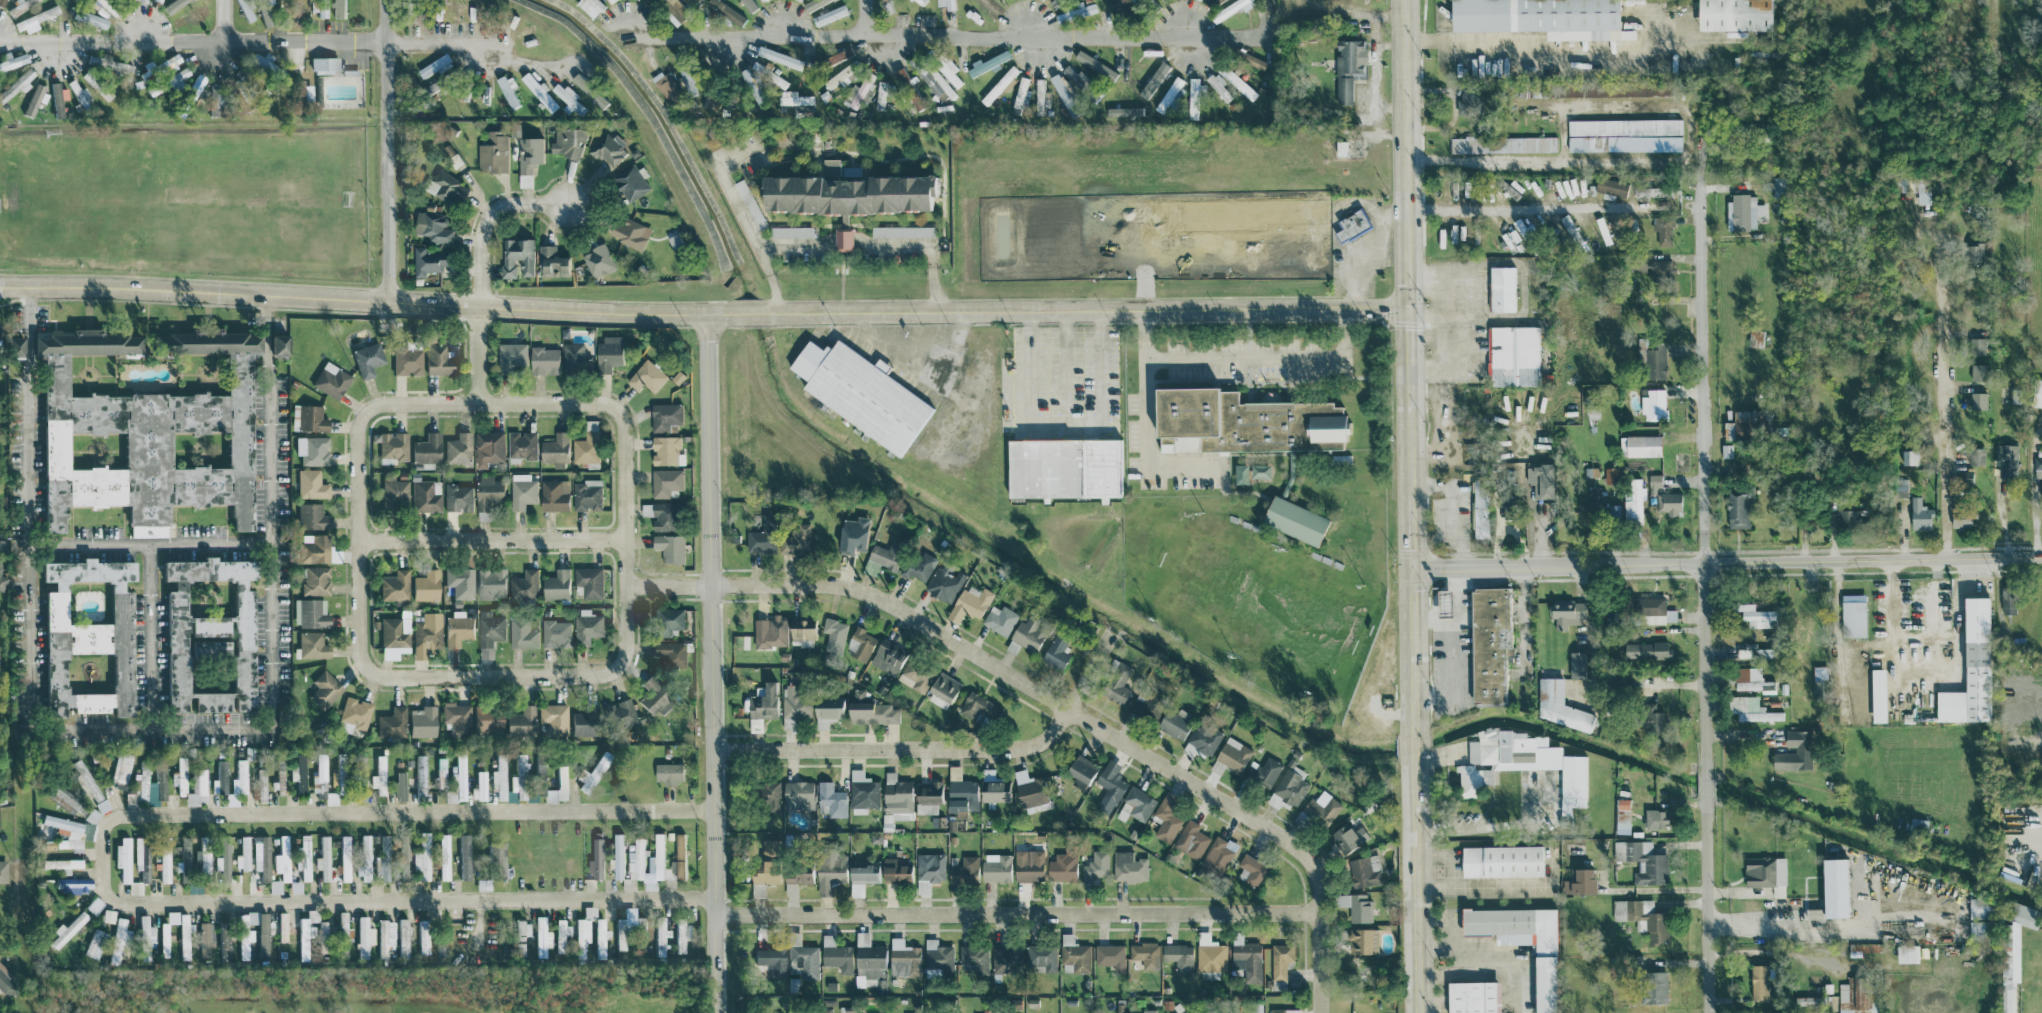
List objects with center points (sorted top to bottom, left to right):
building: (36, 0)
building: (882, 0)
building: (28, 1)
building: (158, 1)
building: (610, 1)
building: (920, 1)
building: (1215, 1)
road: (1992, 1)
building: (946, 4)
building: (590, 6)
building: (321, 8)
building: (338, 8)
building: (293, 9)
building: (674, 10)
building: (726, 11)
building: (1075, 12)
building: (829, 14)
building: (1734, 15)
road: (868, 16)
building: (36, 18)
building: (88, 18)
building: (1542, 18)
road: (222, 20)
road: (963, 36)
road: (193, 40)
road: (440, 43)
building: (838, 55)
building: (779, 57)
building: (1250, 59)
road: (1548, 59)
building: (170, 60)
building: (13, 61)
building: (988, 62)
building: (1090, 63)
building: (265, 64)
building: (323, 64)
building: (433, 66)
building: (946, 67)
building: (1348, 67)
building: (124, 68)
building: (688, 81)
building: (936, 82)
building: (1237, 82)
building: (16, 85)
building: (162, 85)
building: (666, 85)
building: (752, 85)
building: (999, 85)
building: (194, 87)
building: (1219, 87)
building: (1612, 88)
building: (300, 89)
building: (862, 89)
building: (509, 90)
building: (589, 90)
building: (538, 91)
building: (1170, 93)
building: (1022, 94)
building: (1066, 94)
building: (882, 95)
building: (1041, 96)
building: (82, 97)
building: (1193, 98)
building: (55, 99)
building: (33, 100)
building: (215, 100)
building: (797, 101)
building: (1469, 102)
road: (1680, 106)
building: (1614, 131)
building: (567, 142)
building: (1503, 144)
building: (608, 149)
road: (387, 150)
building: (493, 152)
building: (528, 158)
road: (1486, 158)
building: (829, 167)
building: (629, 182)
building: (1611, 186)
building: (446, 187)
road: (728, 187)
building: (1922, 189)
building: (846, 191)
building: (750, 203)
road: (1528, 210)
building: (1743, 210)
building: (1352, 224)
building: (432, 226)
building: (1520, 226)
building: (1570, 228)
building: (1603, 229)
building: (1662, 229)
building: (901, 230)
building: (790, 231)
building: (630, 232)
building: (842, 238)
road: (847, 239)
road: (798, 244)
road: (892, 245)
building: (1973, 252)
building: (517, 256)
building: (597, 259)
building: (428, 260)
building: (551, 261)
road: (480, 267)
building: (1652, 267)
road: (934, 278)
road: (772, 280)
building: (1501, 287)
road: (366, 300)
road: (1947, 307)
traffic signals: (1410, 308)
road: (29, 309)
road: (1090, 310)
road: (267, 311)
road: (752, 312)
road: (1455, 327)
road: (902, 332)
road: (1433, 334)
building: (1755, 337)
building: (276, 344)
building: (1977, 344)
building: (12, 345)
building: (608, 352)
building: (511, 355)
building: (1514, 355)
building: (574, 356)
road: (1271, 358)
building: (366, 359)
building: (406, 359)
building: (436, 359)
building: (543, 359)
building: (1652, 359)
road: (1410, 365)
building: (1977, 370)
road: (1064, 371)
building: (646, 375)
road: (933, 379)
building: (330, 380)
building: (861, 392)
building: (2037, 392)
road: (1427, 394)
building: (1978, 399)
road: (491, 401)
building: (1654, 404)
building: (1592, 411)
building: (664, 415)
building: (307, 418)
building: (1239, 420)
building: (1744, 421)
road: (1149, 422)
road: (1442, 422)
building: (143, 433)
road: (1066, 433)
building: (521, 444)
building: (1325, 444)
building: (1641, 444)
building: (391, 445)
building: (489, 445)
building: (554, 447)
building: (425, 448)
building: (458, 448)
building: (585, 449)
building: (1726, 449)
building: (312, 450)
building: (665, 450)
building: (1976, 455)
building: (1909, 456)
building: (2006, 461)
building: (2038, 466)
building: (1063, 467)
building: (1260, 470)
building: (1240, 473)
road: (1700, 473)
building: (1965, 476)
building: (1540, 480)
building: (1655, 481)
building: (665, 482)
building: (310, 484)
building: (2040, 485)
building: (1899, 486)
building: (393, 493)
building: (487, 494)
building: (523, 494)
building: (554, 494)
building: (425, 495)
building: (587, 496)
building: (457, 497)
building: (1596, 499)
building: (1632, 500)
building: (1669, 502)
building: (1739, 506)
road: (1451, 508)
building: (1480, 508)
building: (660, 514)
building: (1920, 514)
building: (310, 516)
building: (1847, 516)
building: (1962, 516)
building: (1294, 519)
road: (269, 529)
road: (28, 531)
road: (1947, 532)
building: (852, 534)
building: (762, 536)
road: (625, 537)
road: (358, 539)
road: (491, 539)
building: (796, 539)
road: (149, 543)
building: (669, 547)
building: (312, 548)
building: (885, 553)
road: (1727, 562)
building: (918, 565)
traffic signals: (1413, 568)
building: (870, 570)
building: (314, 580)
building: (588, 580)
building: (2, 582)
building: (458, 582)
building: (944, 582)
building: (490, 583)
building: (524, 584)
building: (555, 584)
building: (425, 585)
building: (394, 586)
building: (972, 599)
building: (2007, 599)
building: (1443, 602)
building: (1653, 610)
building: (1566, 612)
building: (309, 613)
building: (1756, 615)
building: (1853, 618)
building: (1000, 619)
road: (1434, 619)
building: (666, 620)
building: (586, 626)
building: (457, 628)
building: (801, 630)
building: (770, 631)
building: (488, 632)
building: (523, 632)
building: (555, 633)
building: (835, 633)
building: (1026, 633)
building: (425, 634)
building: (207, 635)
building: (85, 636)
road: (151, 637)
building: (393, 637)
building: (1489, 642)
building: (861, 644)
river: (1165, 644)
building: (311, 645)
road: (1453, 646)
building: (1646, 649)
building: (1056, 651)
building: (1754, 652)
building: (669, 653)
building: (888, 656)
road: (710, 663)
building: (1578, 664)
building: (1971, 668)
building: (916, 674)
road: (492, 676)
building: (1751, 679)
building: (1116, 682)
building: (324, 689)
building: (942, 689)
building: (1878, 694)
building: (653, 696)
road: (1053, 700)
building: (794, 702)
building: (1146, 705)
building: (1561, 705)
building: (760, 706)
building: (978, 706)
building: (1751, 708)
building: (827, 710)
building: (870, 710)
building: (354, 714)
building: (620, 714)
building: (456, 717)
building: (1650, 717)
building: (487, 718)
building: (553, 719)
building: (422, 721)
building: (520, 722)
building: (391, 723)
building: (579, 723)
building: (1174, 723)
road: (152, 731)
building: (1203, 739)
road: (1417, 742)
road: (941, 748)
building: (1795, 751)
building: (1233, 754)
building: (1502, 756)
building: (121, 767)
building: (1081, 770)
building: (297, 771)
building: (1263, 771)
building: (591, 772)
building: (667, 772)
building: (319, 774)
building: (440, 774)
building: (420, 775)
building: (1573, 775)
building: (220, 776)
building: (379, 776)
building: (178, 777)
building: (239, 777)
building: (84, 779)
building: (501, 780)
road: (1705, 780)
building: (457, 781)
building: (561, 782)
building: (150, 783)
building: (1110, 785)
building: (260, 786)
building: (400, 786)
building: (480, 786)
building: (540, 786)
building: (994, 786)
building: (1029, 789)
building: (1288, 789)
building: (863, 792)
building: (961, 792)
building: (768, 795)
building: (897, 797)
building: (928, 797)
building: (331, 799)
building: (830, 799)
building: (67, 800)
building: (1136, 804)
building: (102, 805)
building: (1322, 807)
building: (91, 815)
building: (1622, 815)
building: (1167, 817)
building: (1655, 819)
building: (69, 831)
building: (1348, 837)
building: (1191, 839)
building: (343, 841)
building: (1573, 848)
building: (173, 850)
building: (184, 853)
building: (244, 853)
building: (362, 853)
building: (280, 854)
building: (403, 855)
building: (618, 855)
building: (1217, 855)
road: (1450, 855)
building: (421, 856)
building: (442, 856)
building: (659, 856)
building: (303, 857)
building: (462, 857)
building: (597, 857)
building: (678, 857)
building: (638, 858)
road: (105, 859)
building: (122, 859)
building: (201, 859)
building: (221, 859)
building: (263, 859)
building: (141, 860)
building: (163, 860)
building: (1502, 860)
building: (1642, 860)
building: (321, 862)
building: (61, 863)
building: (492, 865)
building: (1028, 865)
building: (1095, 865)
building: (930, 866)
building: (1129, 866)
building: (380, 867)
building: (996, 867)
building: (1062, 867)
building: (764, 868)
building: (894, 869)
building: (830, 870)
building: (964, 870)
building: (1364, 870)
building: (2, 871)
building: (1253, 871)
building: (798, 872)
building: (1766, 873)
building: (861, 877)
building: (1579, 881)
building: (588, 883)
road: (1419, 883)
building: (73, 885)
road: (1506, 886)
building: (274, 887)
building: (294, 887)
building: (1834, 887)
building: (134, 888)
building: (1355, 905)
road: (1707, 905)
building: (1980, 907)
road: (1017, 913)
building: (1648, 919)
building: (282, 926)
building: (583, 929)
building: (643, 929)
building: (1978, 929)
building: (66, 930)
road: (1447, 931)
building: (180, 932)
building: (305, 933)
building: (342, 934)
building: (620, 934)
building: (244, 935)
building: (261, 935)
building: (560, 935)
building: (681, 935)
building: (383, 936)
building: (143, 937)
building: (363, 937)
building: (402, 937)
building: (422, 937)
building: (520, 937)
building: (540, 937)
building: (661, 937)
building: (204, 938)
building: (162, 939)
building: (599, 939)
building: (117, 940)
building: (1363, 940)
building: (222, 942)
building: (1522, 942)
building: (94, 943)
road: (1472, 945)
building: (2013, 952)
building: (1075, 953)
building: (1145, 953)
building: (1210, 953)
building: (1907, 953)
building: (836, 954)
building: (1110, 955)
building: (1179, 955)
building: (1042, 956)
building: (801, 957)
building: (903, 958)
building: (937, 958)
building: (1005, 958)
building: (973, 959)
building: (1281, 959)
building: (770, 960)
building: (1247, 960)
building: (869, 962)
road: (1490, 972)
building: (6, 981)
building: (1759, 981)
building: (1654, 986)
building: (1854, 995)
building: (1013, 1003)
building: (1284, 1010)
building: (1150, 1011)

